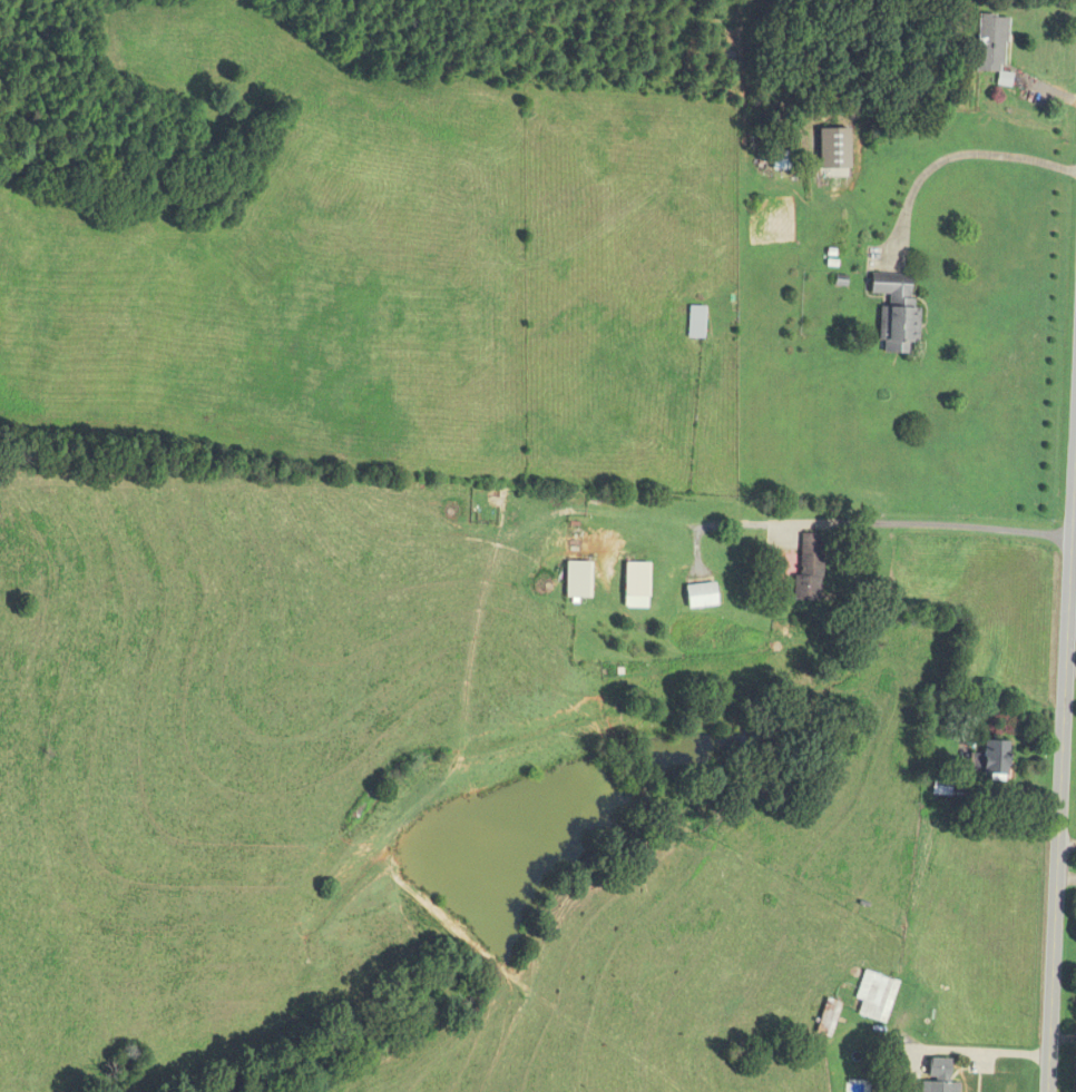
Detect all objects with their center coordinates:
building: (992, 43)
road: (966, 154)
building: (782, 160)
building: (898, 312)
building: (697, 322)
road: (1075, 512)
road: (884, 522)
building: (810, 569)
building: (638, 586)
building: (703, 597)
building: (992, 761)
road: (1068, 788)
building: (876, 996)
building: (829, 1017)
road: (992, 1054)
building: (940, 1075)

